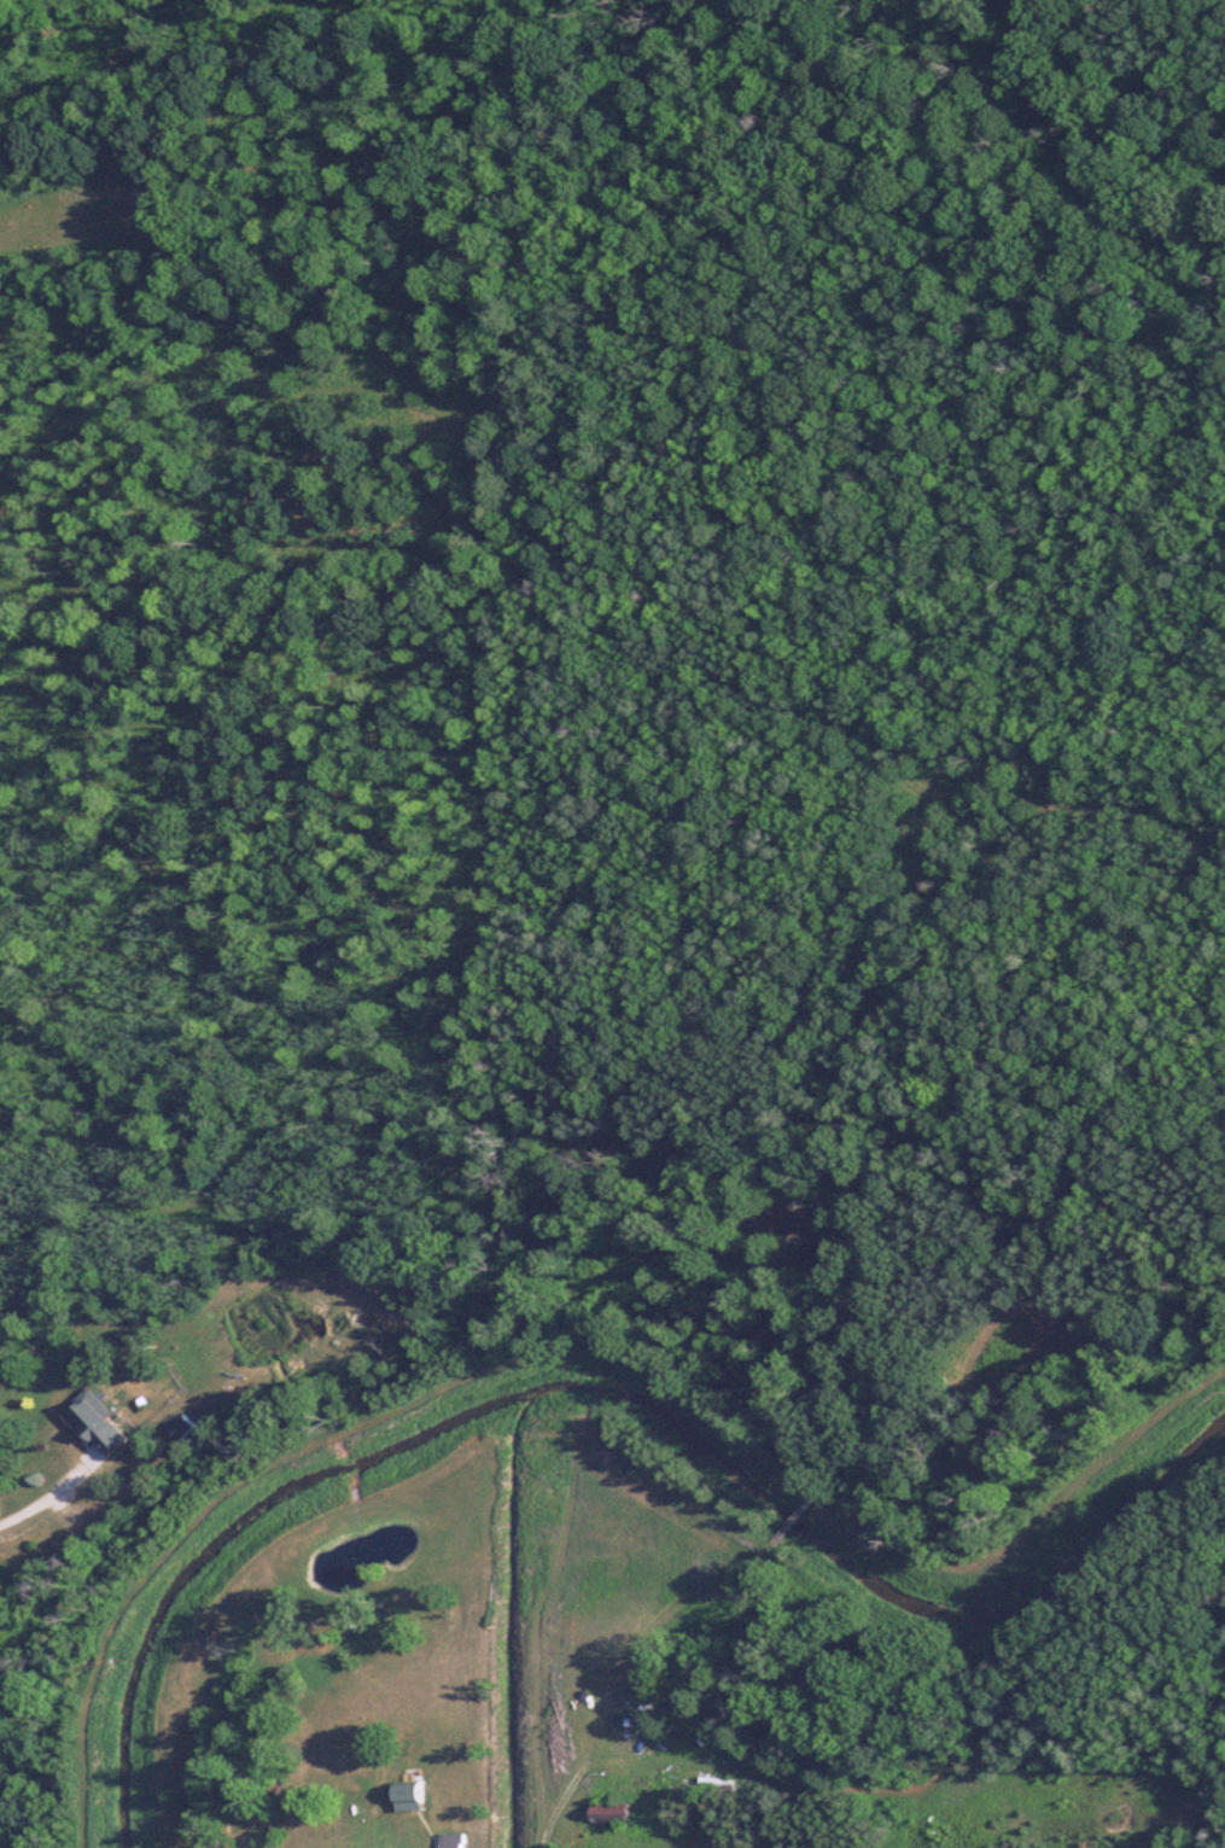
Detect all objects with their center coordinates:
building: (109, 1424)
building: (191, 1426)
road: (48, 1500)
road: (798, 1520)
building: (727, 1782)
building: (422, 1791)
building: (465, 1840)

